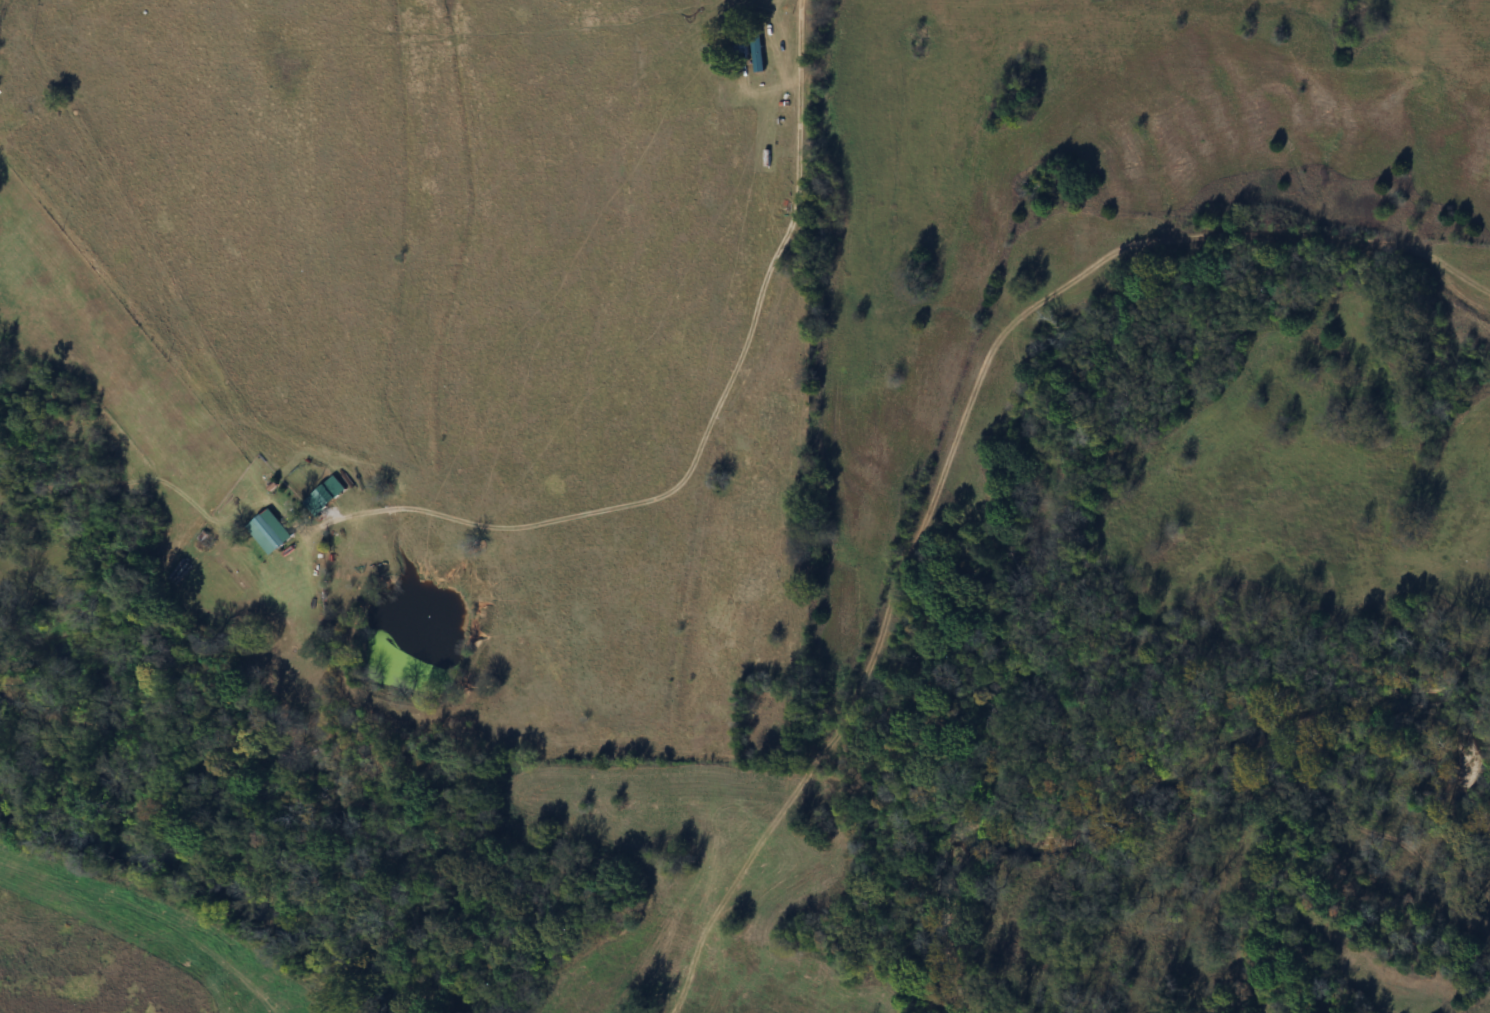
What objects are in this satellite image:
building: (744, 46)

